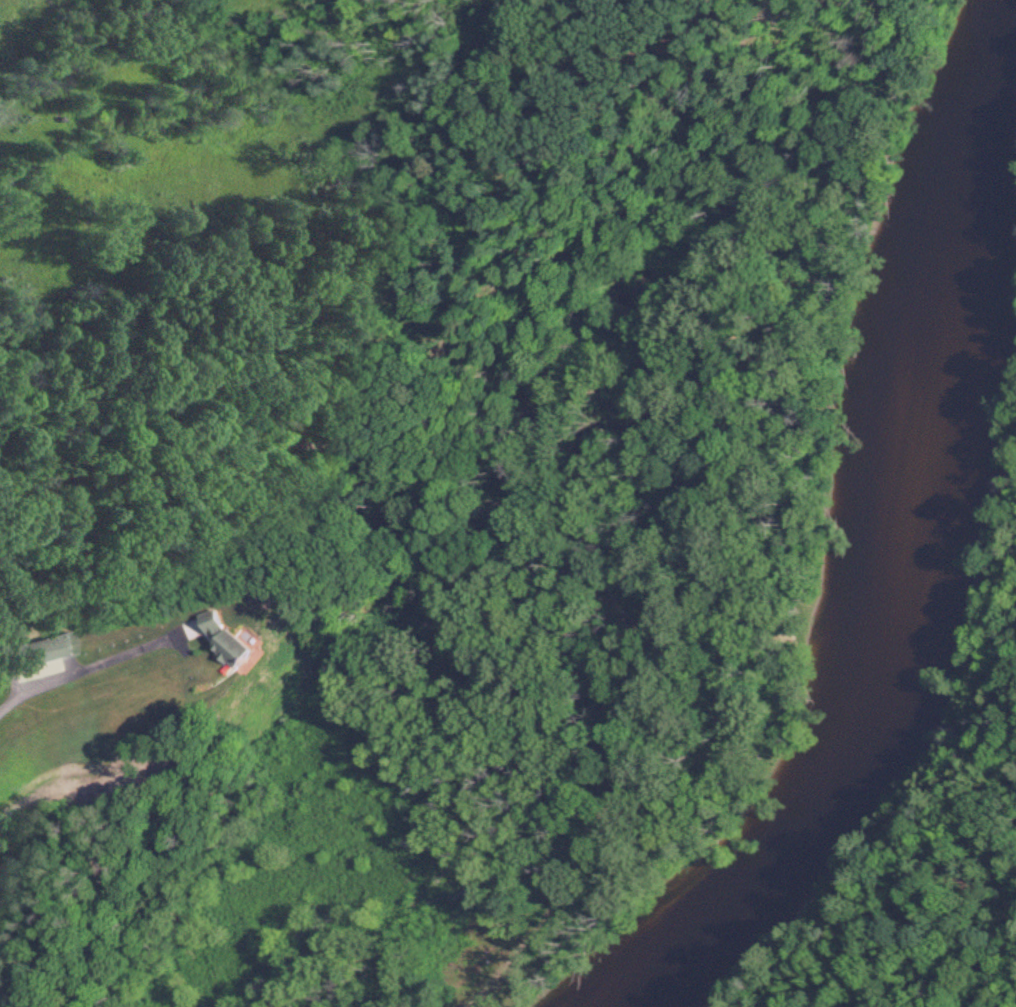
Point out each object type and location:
river: (919, 555)
road: (80, 671)

